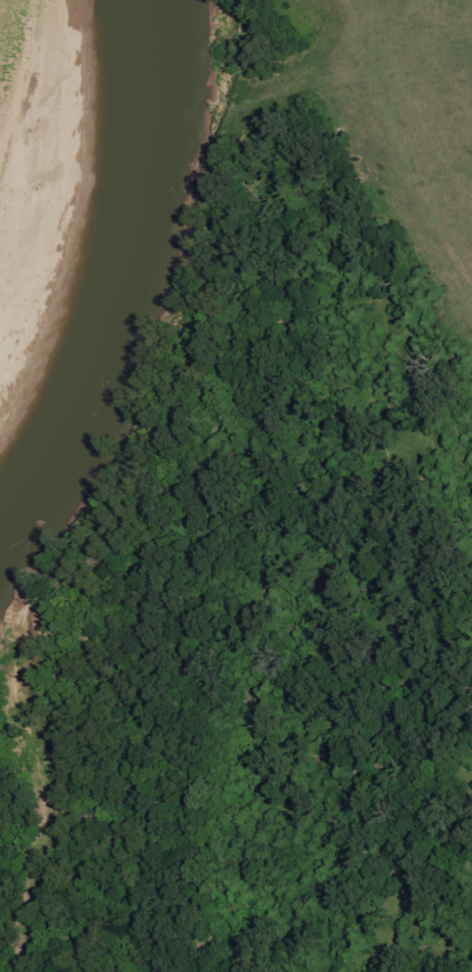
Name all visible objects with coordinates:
river: (65, 179)

